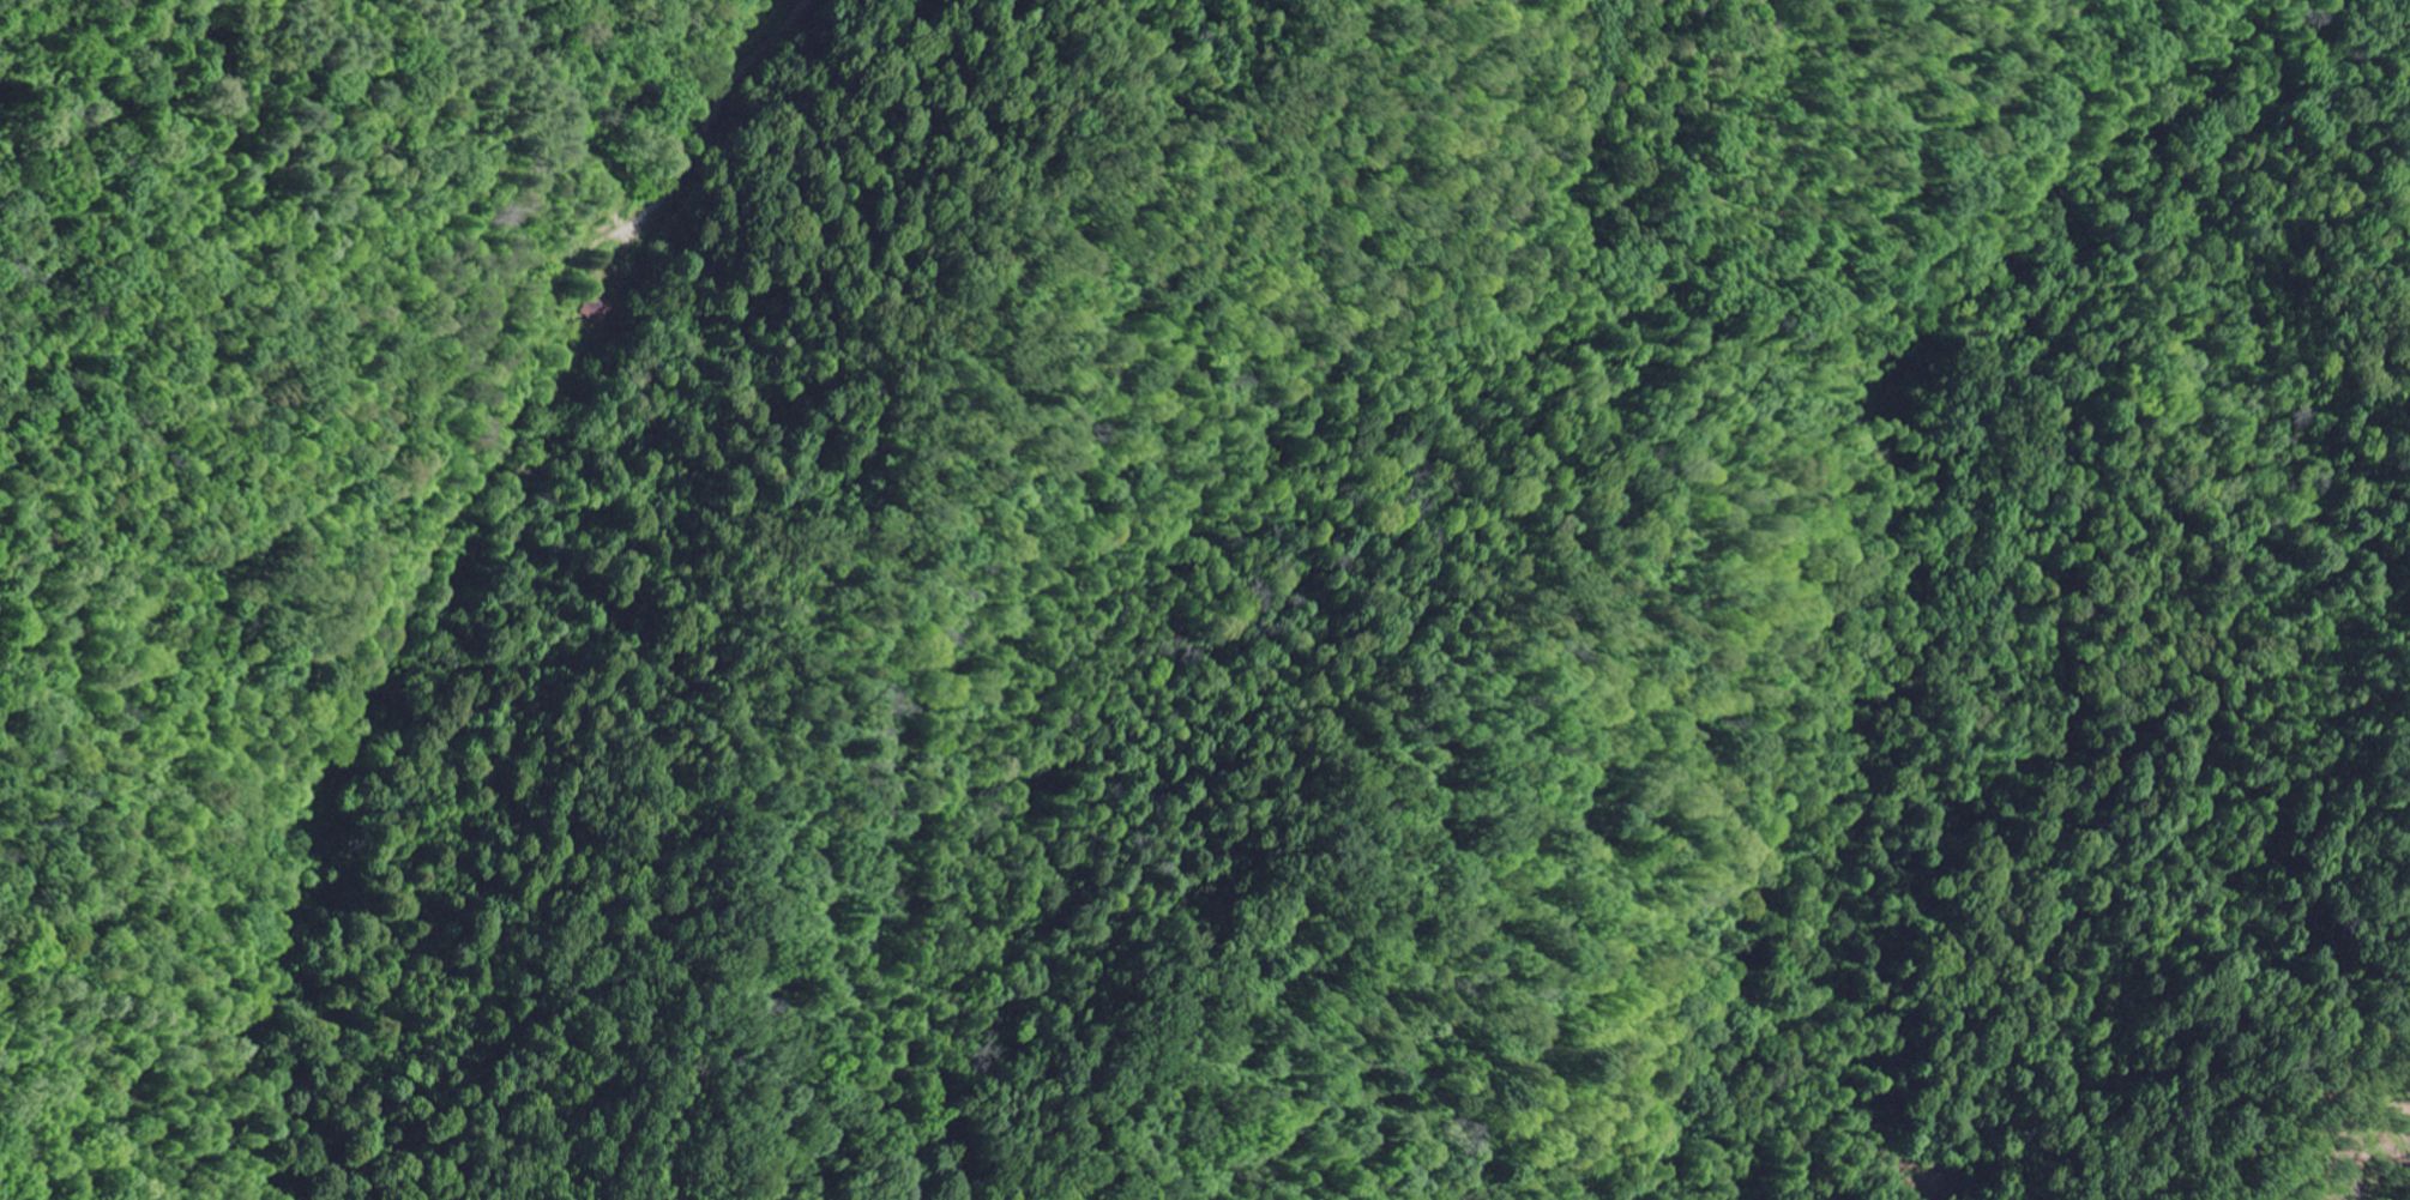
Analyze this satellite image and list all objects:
road: (711, 114)

